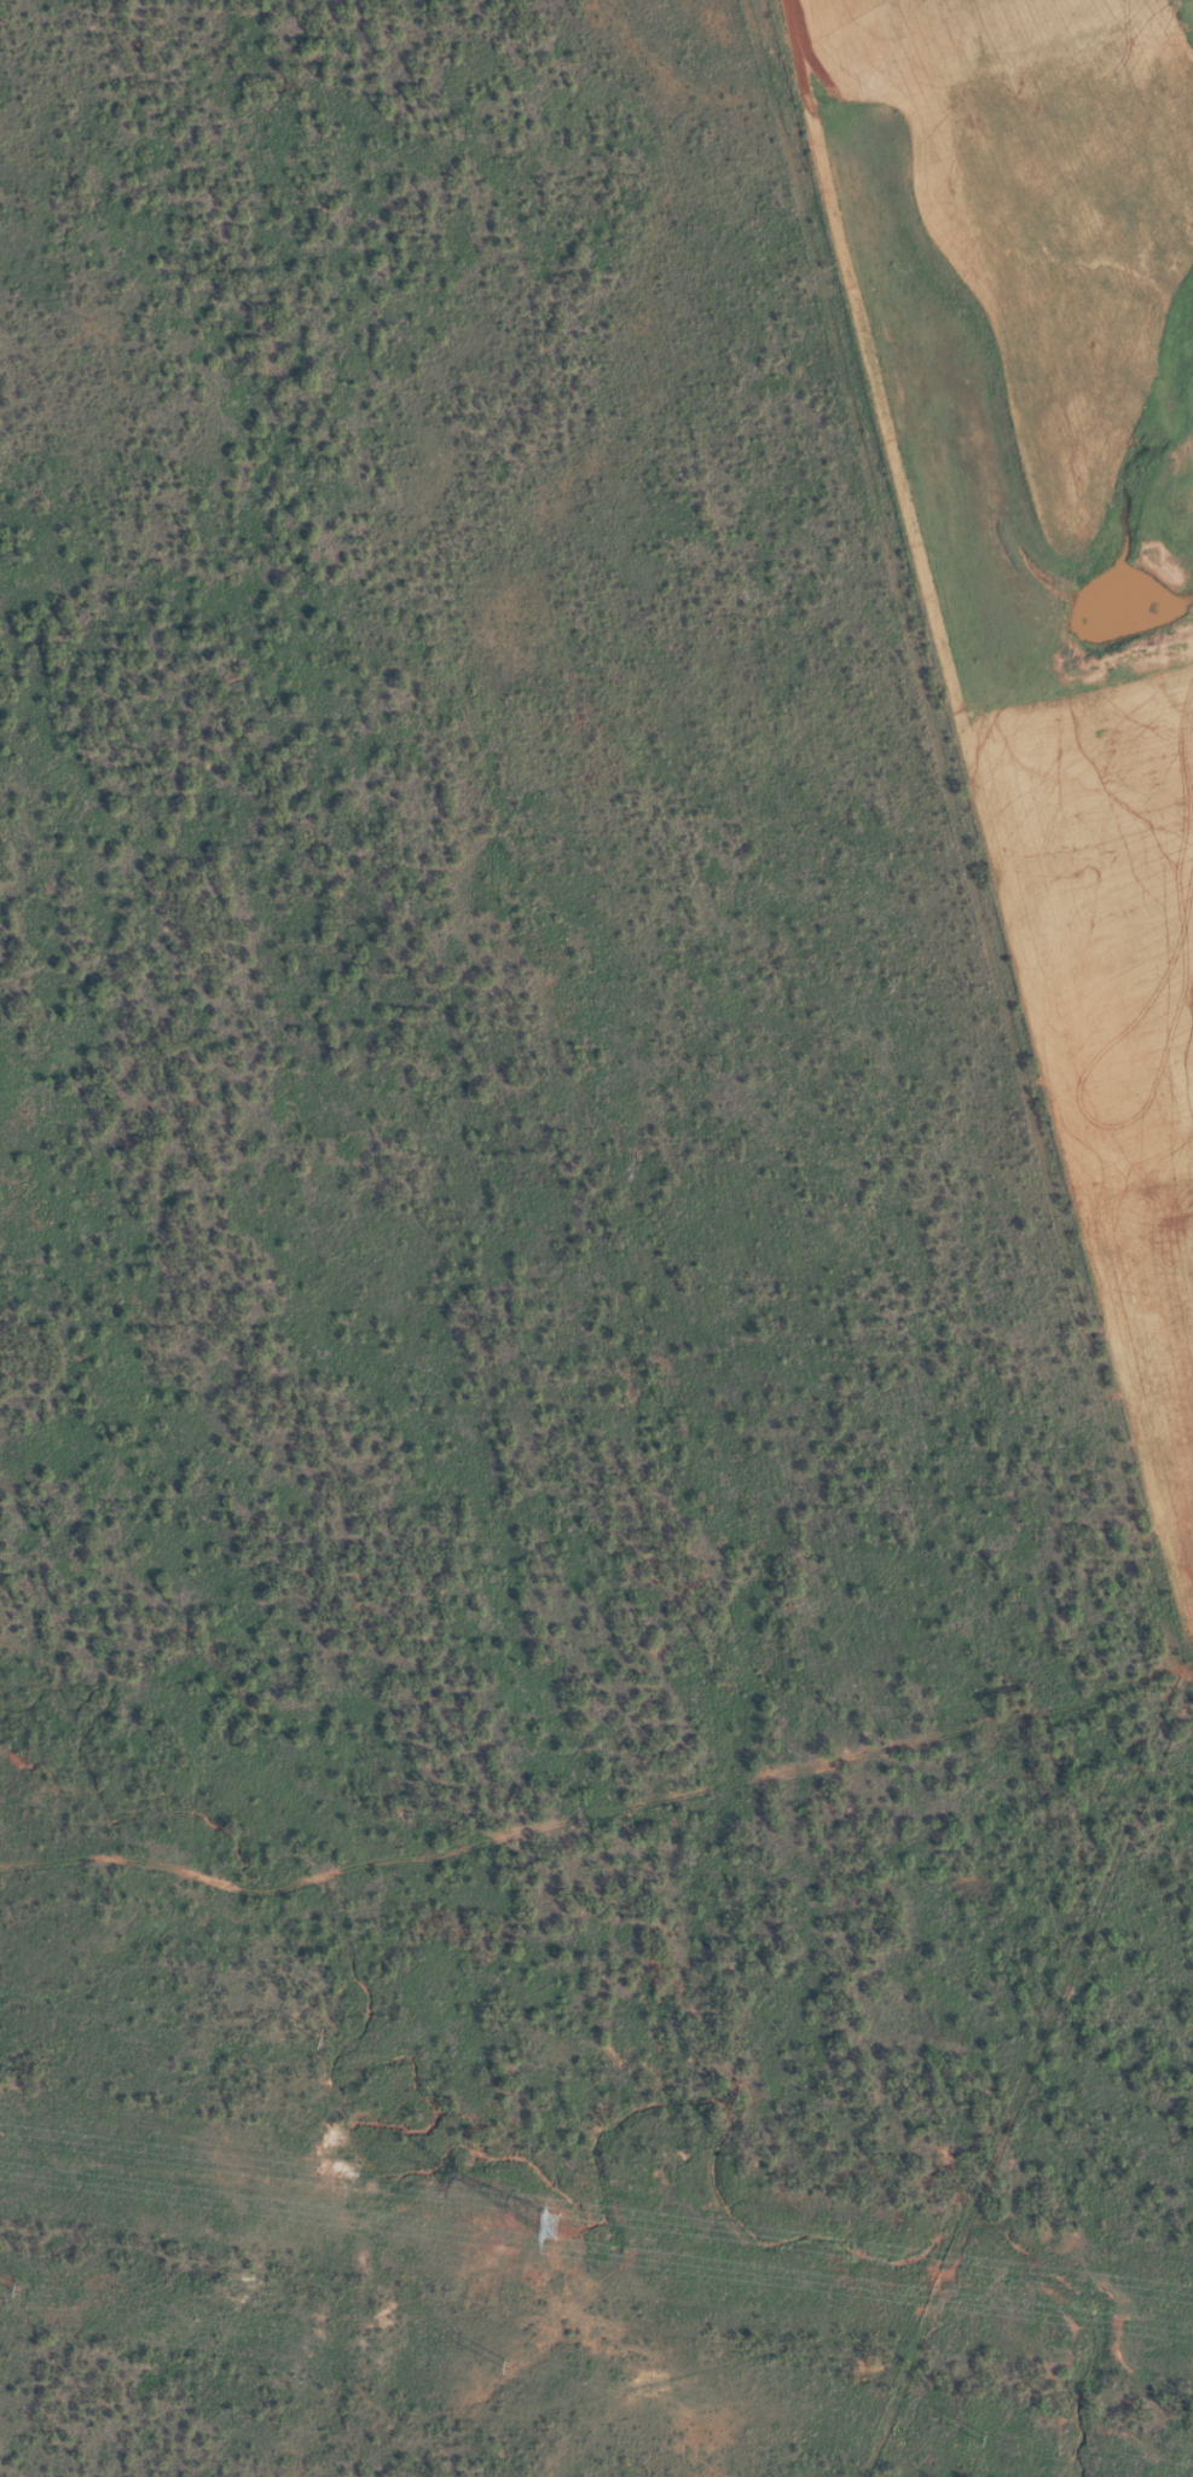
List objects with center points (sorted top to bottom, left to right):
power tower: (320, 2040)
power tower: (737, 2091)
power tower: (1107, 2136)
power tower: (538, 2227)
power tower: (17, 2290)
power tower: (506, 2366)
power tower: (966, 2437)

